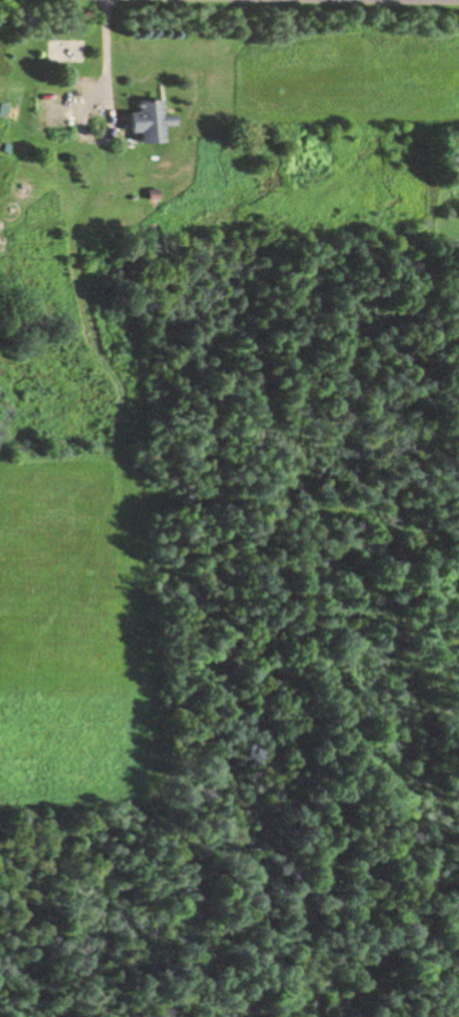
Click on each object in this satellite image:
building: (151, 122)

